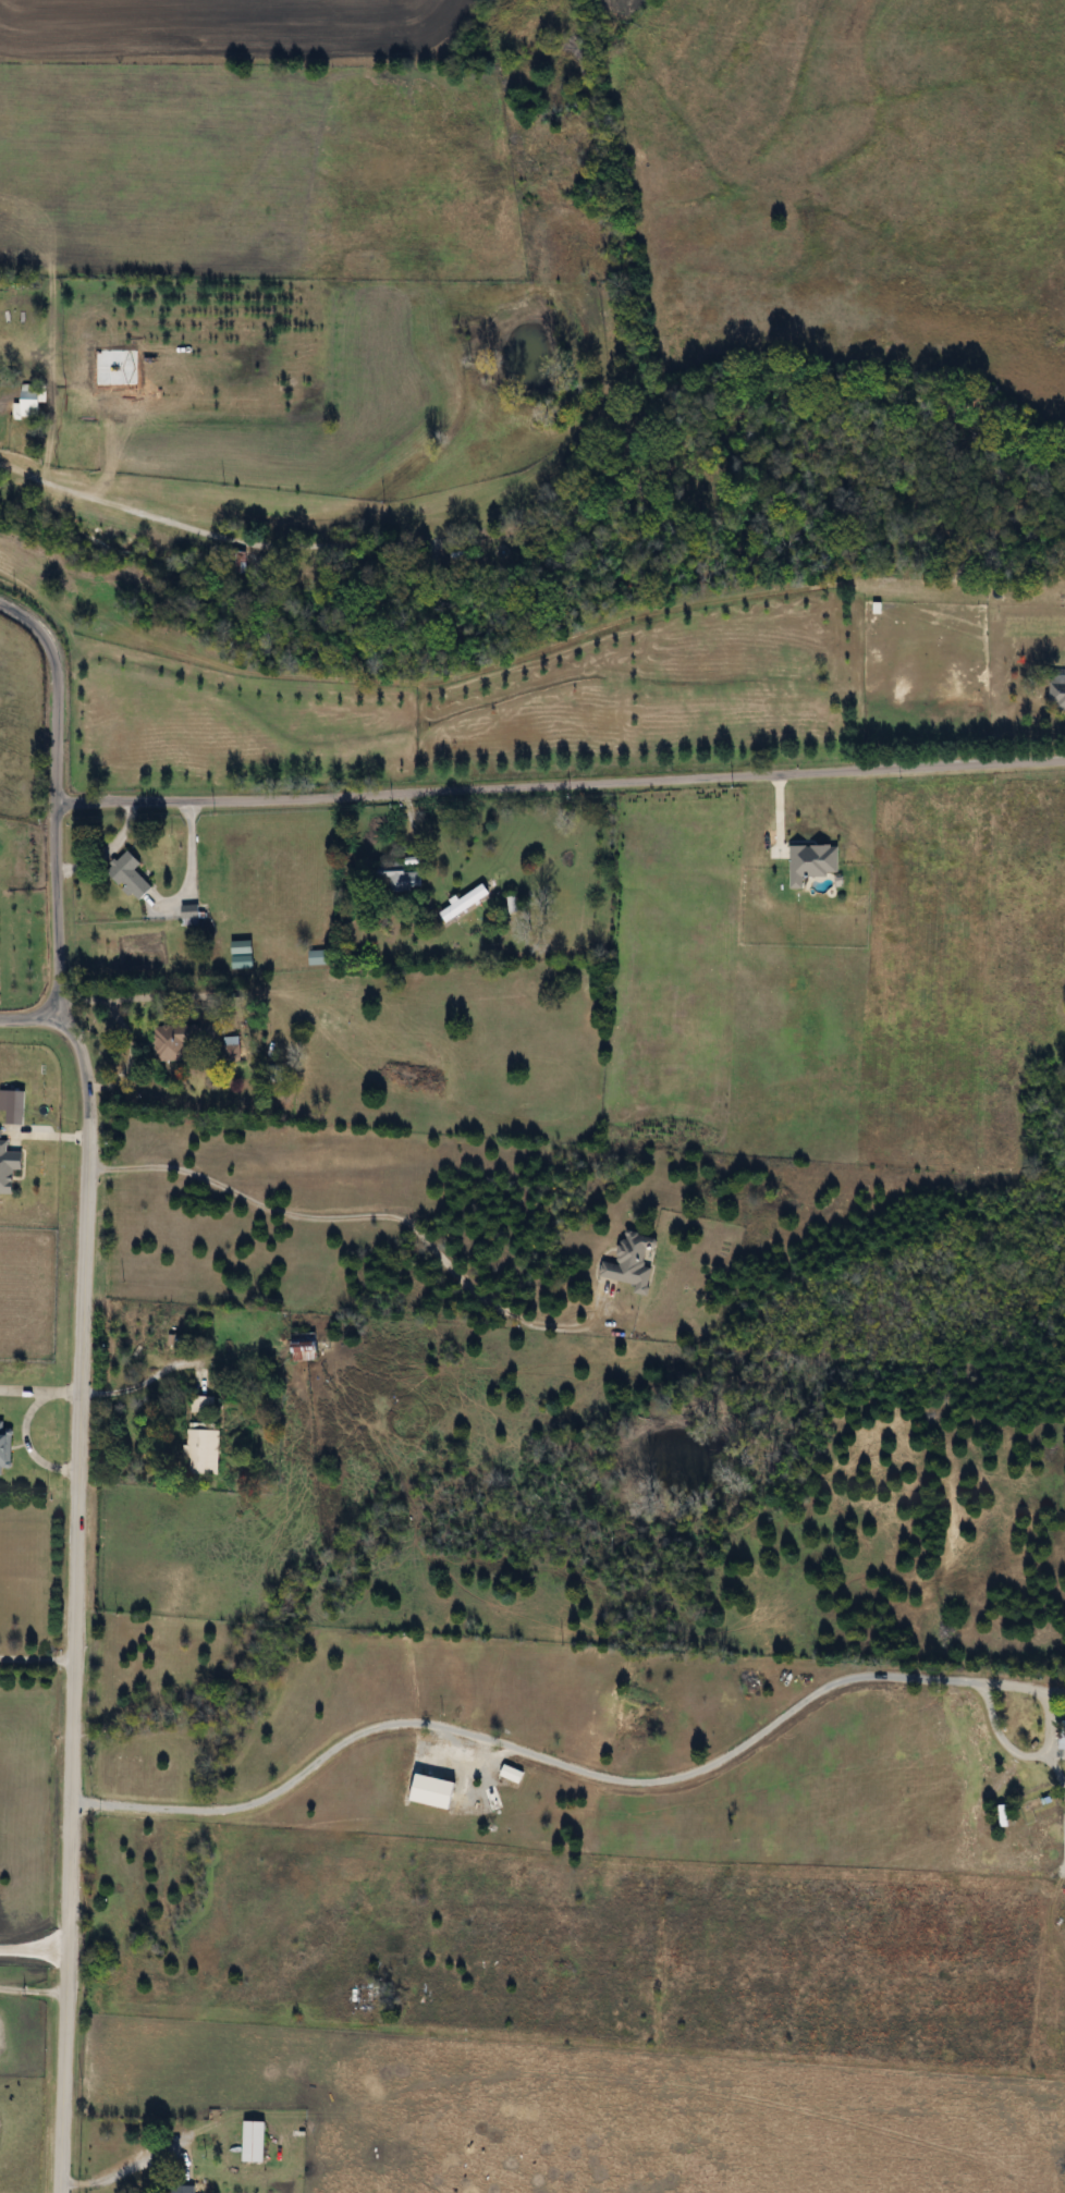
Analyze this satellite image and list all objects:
building: (30, 400)
road: (204, 532)
building: (883, 577)
building: (1056, 694)
road: (560, 785)
road: (54, 796)
building: (130, 875)
building: (397, 877)
building: (465, 903)
building: (191, 915)
building: (317, 957)
road: (26, 1017)
road: (124, 1030)
building: (175, 1042)
building: (231, 1048)
road: (369, 1216)
building: (632, 1262)
building: (304, 1346)
road: (133, 1382)
building: (201, 1404)
road: (23, 1423)
building: (4, 1446)
building: (203, 1448)
road: (76, 1596)
road: (37, 1661)
building: (1064, 1736)
road: (550, 1762)
road: (36, 1816)
road: (33, 1993)
building: (254, 2141)
road: (144, 2159)
building: (181, 2189)

